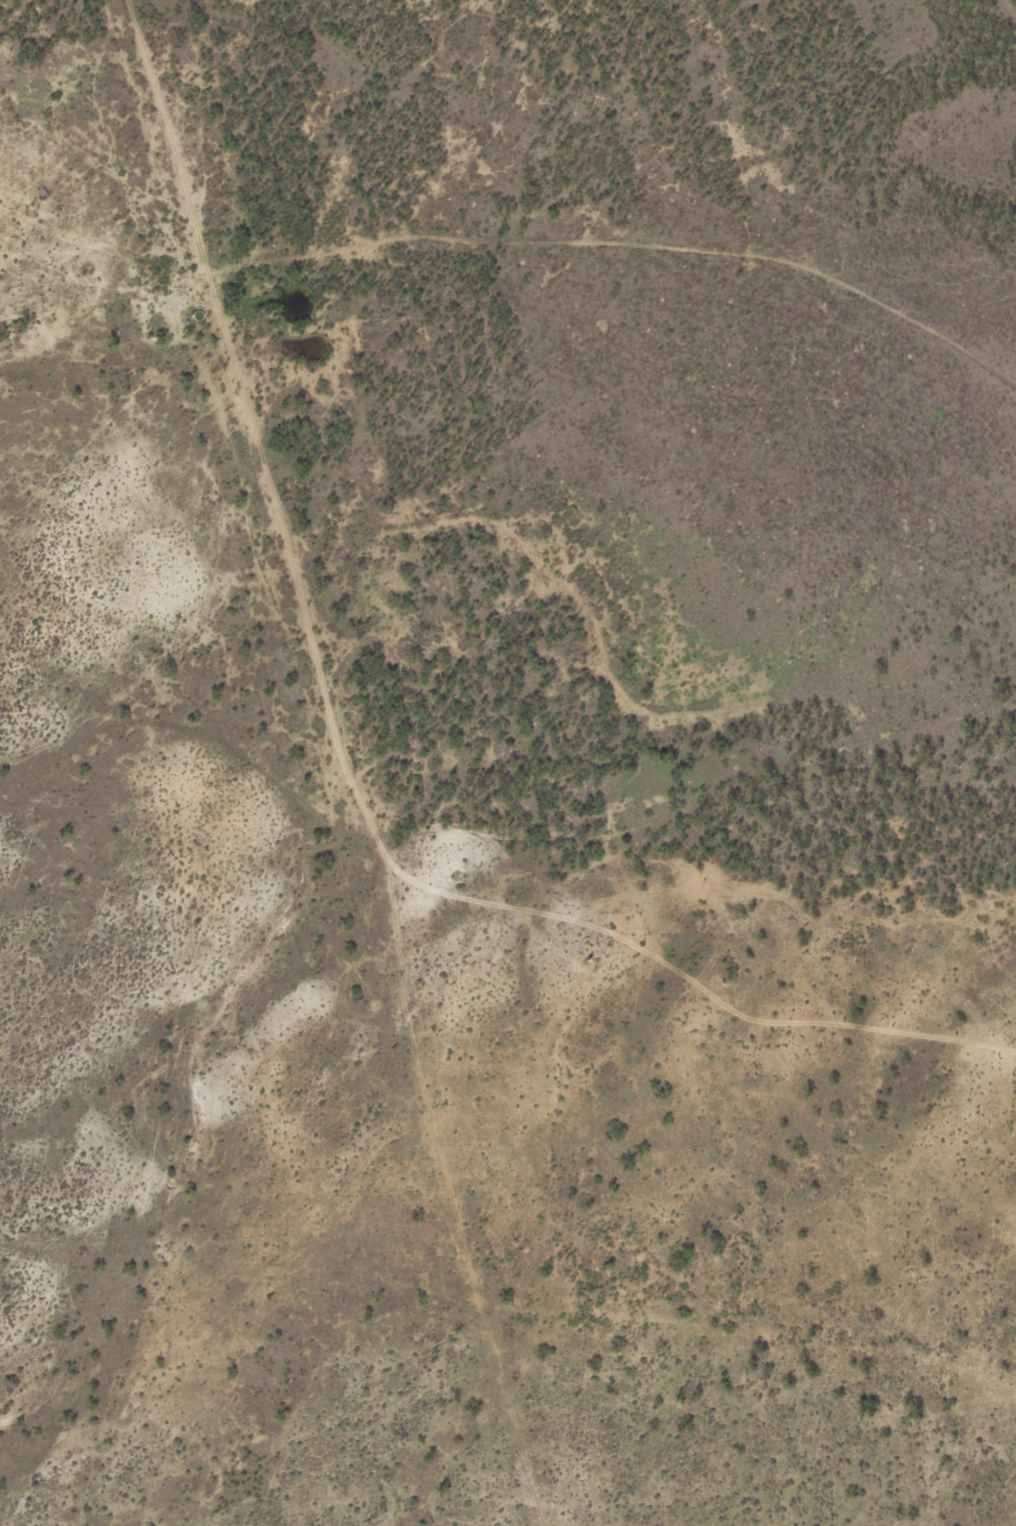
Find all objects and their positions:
road: (626, 250)
road: (344, 756)
road: (465, 1193)

